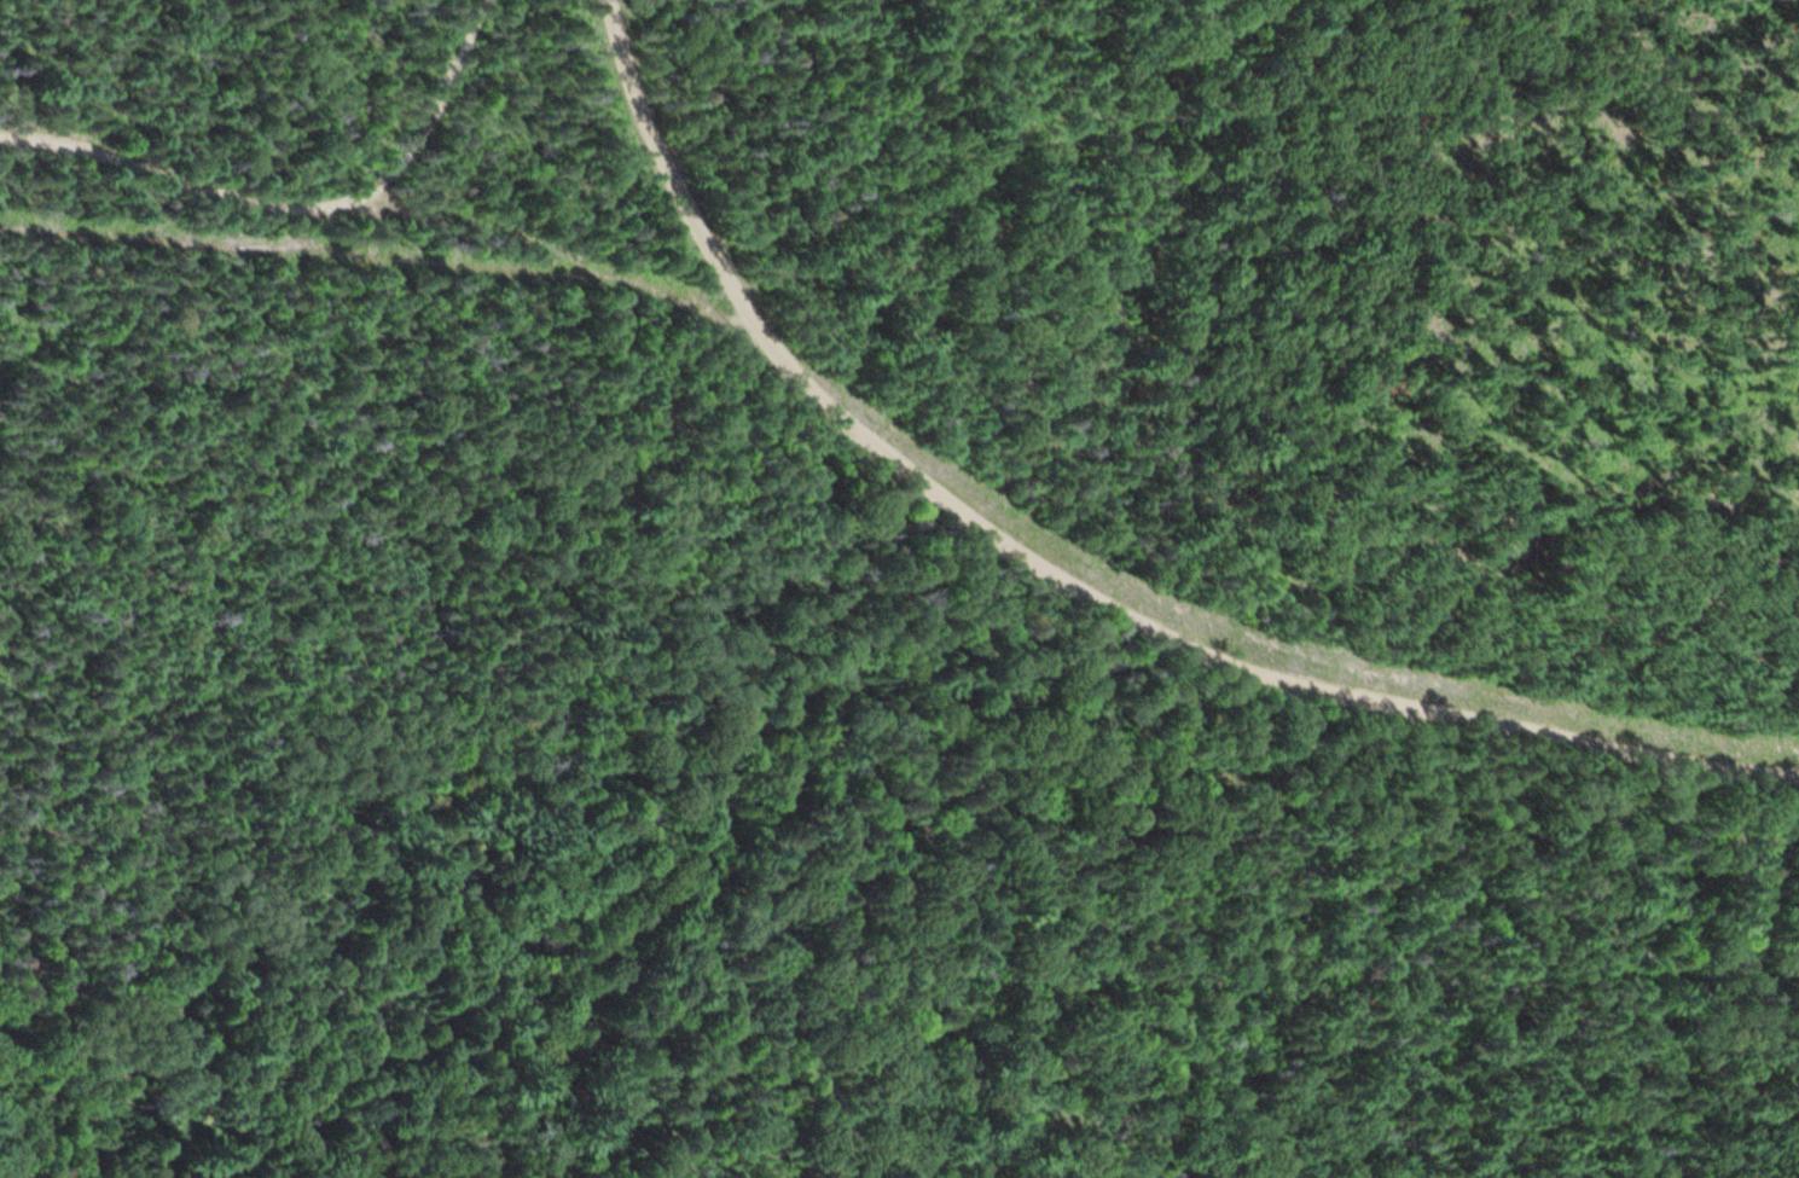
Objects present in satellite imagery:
road: (437, 106)
road: (672, 172)
road: (182, 175)
road: (1230, 662)

